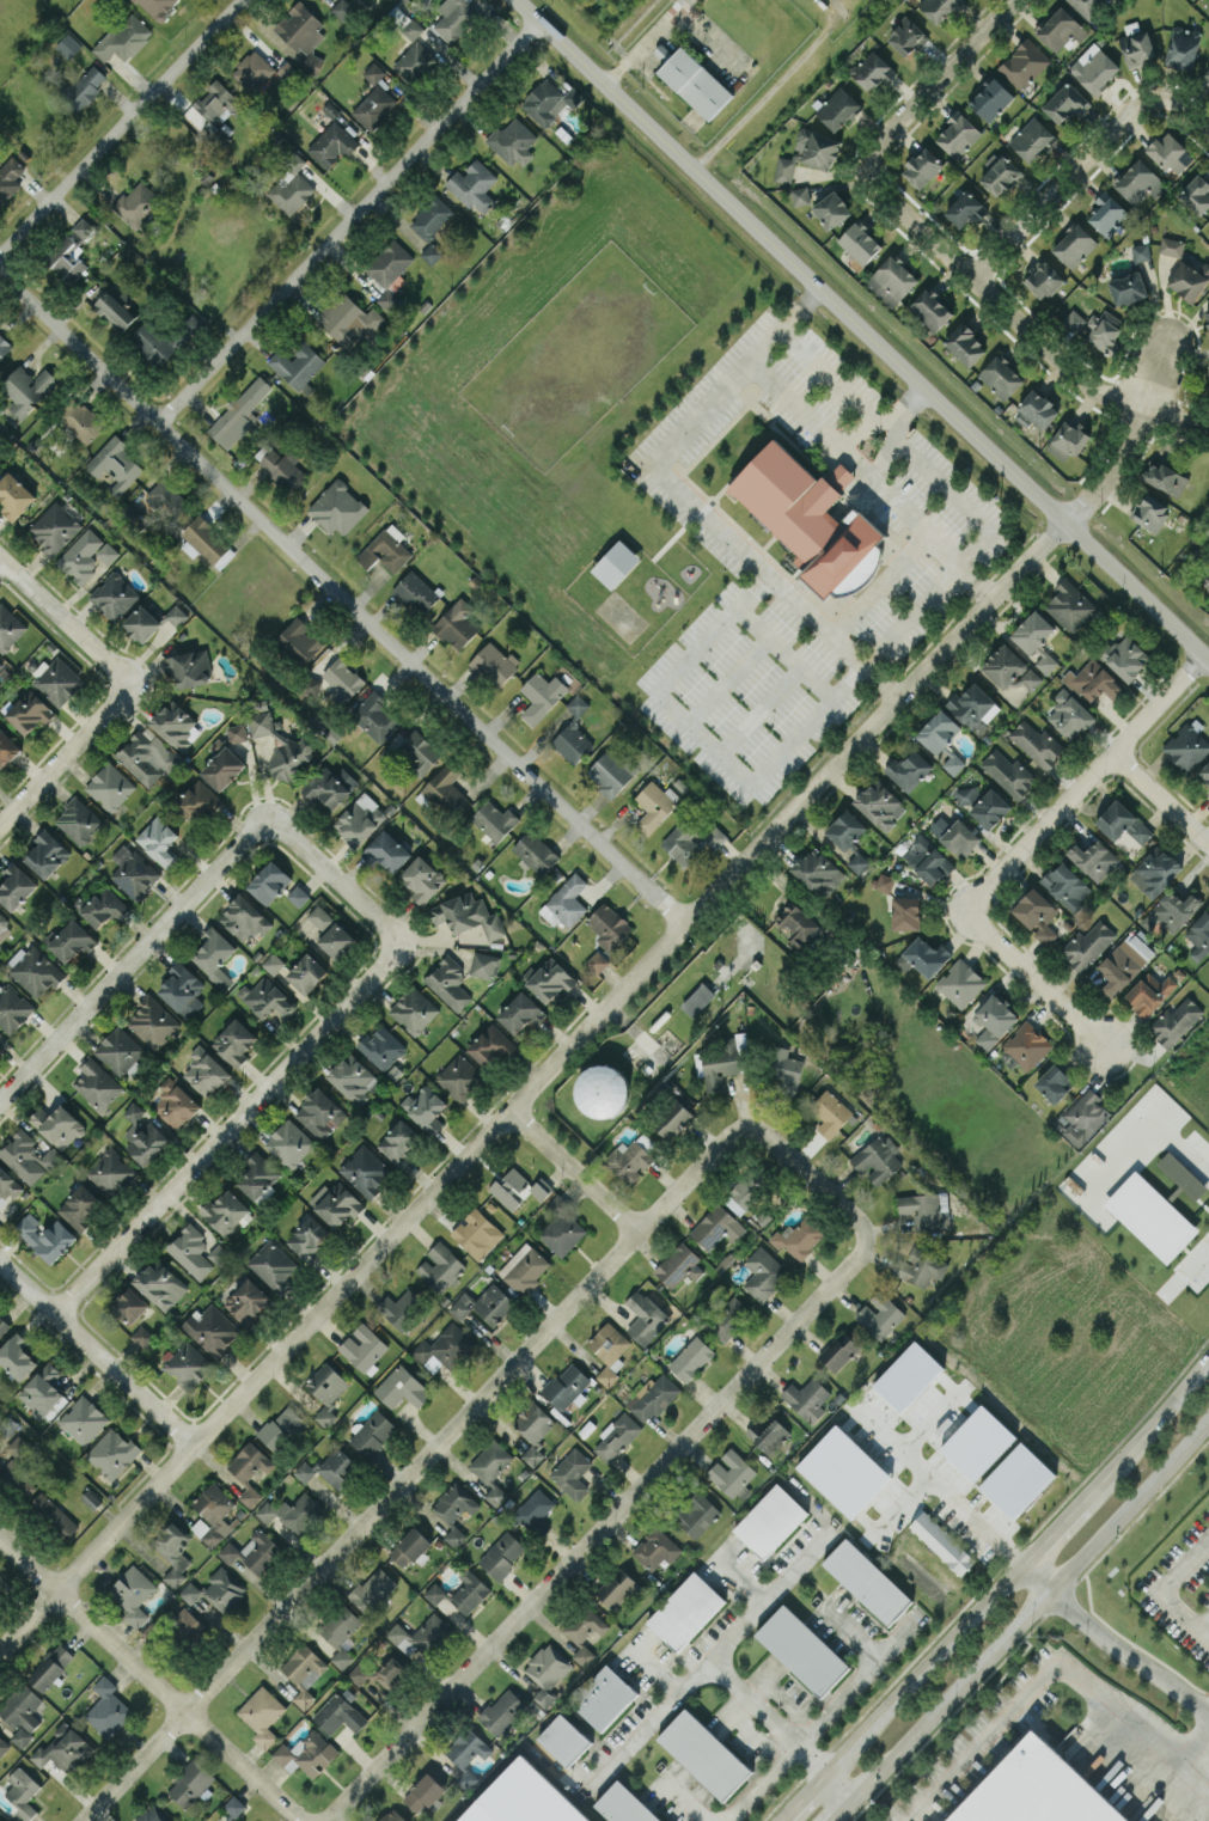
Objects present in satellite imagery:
building: (158, 6)
building: (1087, 6)
building: (938, 7)
building: (342, 8)
building: (456, 18)
building: (413, 29)
building: (1060, 29)
building: (301, 32)
building: (906, 36)
building: (123, 37)
road: (646, 41)
road: (709, 41)
building: (68, 44)
building: (1137, 47)
building: (1183, 48)
building: (414, 61)
building: (1024, 62)
building: (1094, 67)
building: (251, 69)
building: (287, 69)
building: (872, 69)
building: (373, 72)
building: (1205, 75)
road: (934, 79)
building: (695, 83)
building: (84, 86)
building: (990, 98)
building: (218, 100)
building: (549, 100)
building: (1064, 103)
building: (373, 106)
building: (837, 108)
road: (446, 116)
road: (118, 124)
building: (958, 134)
building: (1032, 139)
building: (513, 141)
building: (331, 143)
building: (808, 152)
building: (1170, 152)
road: (1085, 158)
building: (922, 166)
building: (1000, 175)
building: (8, 177)
building: (1138, 181)
building: (472, 184)
building: (291, 185)
building: (1196, 193)
building: (800, 195)
building: (136, 203)
building: (831, 209)
building: (965, 209)
building: (1107, 213)
building: (431, 216)
building: (83, 226)
building: (1074, 244)
building: (859, 245)
building: (1171, 245)
building: (1141, 251)
building: (431, 252)
building: (67, 257)
building: (390, 270)
building: (1043, 279)
building: (1189, 279)
building: (892, 280)
building: (1128, 287)
road: (990, 298)
building: (930, 308)
building: (114, 310)
building: (1207, 314)
building: (346, 318)
road: (257, 319)
road: (860, 326)
building: (1095, 329)
building: (151, 341)
building: (965, 343)
building: (4, 346)
building: (298, 363)
road: (733, 374)
building: (1001, 375)
building: (26, 389)
road: (904, 405)
building: (1036, 409)
building: (238, 413)
road: (1174, 416)
building: (81, 420)
road: (887, 426)
road: (860, 434)
building: (1071, 436)
road: (1124, 440)
road: (880, 454)
building: (115, 463)
building: (282, 468)
building: (1164, 477)
road: (872, 481)
building: (14, 495)
building: (167, 500)
building: (337, 507)
building: (128, 511)
building: (1150, 511)
building: (811, 518)
building: (54, 527)
building: (206, 542)
road: (1045, 545)
building: (385, 549)
building: (86, 555)
road: (0, 558)
building: (615, 563)
building: (1205, 580)
road: (878, 583)
road: (776, 585)
building: (416, 592)
building: (112, 595)
road: (341, 597)
road: (923, 599)
building: (1070, 605)
building: (176, 613)
road: (67, 623)
building: (141, 623)
building: (457, 624)
building: (8, 627)
building: (1036, 638)
building: (299, 640)
building: (1124, 656)
road: (1204, 658)
building: (493, 662)
building: (0, 664)
building: (1003, 665)
building: (187, 668)
building: (342, 677)
building: (1030, 678)
building: (57, 680)
building: (1093, 680)
building: (312, 685)
building: (541, 695)
building: (973, 705)
building: (28, 709)
building: (1069, 714)
building: (374, 716)
building: (175, 723)
building: (938, 731)
building: (237, 732)
building: (573, 733)
road: (702, 739)
building: (279, 743)
building: (1036, 743)
building: (1186, 746)
building: (7, 748)
building: (413, 753)
building: (146, 756)
road: (67, 759)
building: (953, 763)
building: (224, 768)
building: (908, 769)
building: (611, 771)
building: (1008, 772)
building: (1204, 774)
road: (1085, 783)
building: (328, 784)
building: (109, 786)
building: (444, 788)
building: (1208, 793)
building: (966, 794)
building: (197, 800)
road: (1160, 800)
building: (879, 803)
building: (654, 805)
building: (990, 808)
building: (360, 819)
building: (494, 819)
building: (78, 820)
building: (1123, 821)
building: (845, 829)
building: (955, 835)
building: (159, 841)
building: (690, 843)
building: (386, 850)
building: (536, 851)
building: (47, 853)
building: (927, 858)
building: (1093, 858)
building: (857, 861)
building: (133, 870)
building: (818, 870)
building: (1155, 870)
building: (422, 879)
building: (269, 881)
building: (884, 881)
building: (14, 885)
building: (1065, 885)
building: (298, 894)
building: (564, 902)
building: (104, 906)
building: (1171, 910)
building: (906, 912)
building: (1036, 913)
building: (466, 915)
building: (320, 917)
building: (243, 918)
building: (795, 922)
building: (609, 925)
building: (4, 927)
road: (164, 929)
building: (1199, 935)
building: (71, 940)
building: (336, 940)
building: (1087, 943)
building: (214, 955)
building: (923, 957)
building: (597, 961)
building: (1124, 961)
building: (273, 963)
building: (483, 964)
building: (33, 970)
building: (306, 972)
road: (1033, 977)
building: (548, 979)
building: (448, 982)
building: (959, 982)
building: (182, 989)
building: (1149, 992)
building: (267, 997)
building: (697, 998)
building: (13, 1008)
building: (414, 1009)
building: (520, 1012)
building: (152, 1020)
building: (993, 1020)
building: (1174, 1021)
building: (234, 1041)
building: (490, 1044)
building: (1026, 1045)
building: (381, 1046)
building: (120, 1051)
building: (719, 1061)
building: (786, 1068)
building: (206, 1070)
building: (458, 1076)
building: (353, 1078)
building: (96, 1082)
building: (1054, 1082)
building: (603, 1089)
road: (273, 1095)
building: (175, 1102)
building: (425, 1107)
road: (514, 1110)
building: (319, 1112)
building: (830, 1112)
building: (1085, 1117)
building: (671, 1118)
building: (57, 1124)
road: (1153, 1124)
building: (145, 1135)
building: (288, 1142)
building: (398, 1142)
building: (29, 1156)
building: (631, 1156)
building: (875, 1159)
building: (365, 1169)
road: (575, 1171)
building: (111, 1172)
building: (257, 1174)
building: (1181, 1174)
road: (811, 1179)
building: (8, 1185)
building: (518, 1187)
building: (747, 1187)
building: (335, 1203)
building: (79, 1206)
building: (225, 1211)
building: (1150, 1216)
building: (716, 1226)
building: (561, 1227)
building: (476, 1233)
building: (47, 1236)
building: (307, 1236)
building: (799, 1236)
building: (190, 1251)
building: (218, 1253)
road: (1192, 1261)
building: (273, 1265)
building: (678, 1265)
building: (440, 1266)
building: (921, 1266)
building: (524, 1267)
building: (763, 1272)
building: (160, 1283)
building: (246, 1300)
building: (483, 1303)
building: (129, 1304)
building: (401, 1308)
building: (880, 1314)
building: (645, 1316)
building: (728, 1316)
building: (2, 1325)
building: (212, 1330)
building: (141, 1334)
building: (362, 1346)
building: (444, 1348)
building: (609, 1350)
building: (838, 1350)
road: (96, 1352)
building: (691, 1357)
building: (188, 1365)
building: (567, 1385)
building: (401, 1387)
building: (41, 1389)
building: (325, 1389)
building: (651, 1398)
building: (806, 1398)
building: (83, 1419)
building: (8, 1424)
road: (1150, 1425)
building: (281, 1428)
building: (372, 1432)
building: (768, 1434)
building: (616, 1435)
building: (111, 1452)
building: (18, 1463)
building: (330, 1467)
building: (491, 1468)
building: (249, 1469)
road: (411, 1471)
building: (572, 1472)
building: (733, 1473)
road: (939, 1483)
building: (90, 1498)
building: (533, 1508)
building: (454, 1509)
building: (292, 1511)
building: (53, 1514)
building: (214, 1514)
building: (697, 1514)
building: (770, 1520)
road: (1052, 1528)
road: (598, 1532)
building: (942, 1541)
building: (410, 1546)
building: (657, 1548)
building: (252, 1551)
building: (172, 1552)
building: (502, 1554)
road: (740, 1575)
road: (1034, 1578)
building: (867, 1581)
building: (618, 1587)
building: (224, 1588)
road: (1170, 1588)
building: (373, 1590)
building: (190, 1591)
building: (462, 1591)
building: (130, 1593)
road: (770, 1593)
building: (685, 1609)
road: (1033, 1611)
road: (1204, 1621)
building: (585, 1624)
building: (189, 1625)
road: (853, 1631)
building: (340, 1632)
building: (420, 1634)
building: (802, 1649)
building: (582, 1654)
road: (1129, 1655)
road: (709, 1662)
building: (50, 1666)
road: (654, 1668)
road: (1046, 1670)
building: (304, 1672)
building: (547, 1672)
building: (380, 1673)
road: (912, 1678)
road: (148, 1681)
road: (854, 1682)
building: (604, 1697)
building: (106, 1707)
building: (502, 1710)
building: (22, 1712)
building: (262, 1713)
building: (338, 1713)
building: (563, 1738)
building: (2, 1744)
building: (468, 1747)
road: (1193, 1747)
building: (63, 1748)
building: (306, 1753)
building: (704, 1753)
road: (759, 1782)
building: (190, 1783)
road: (838, 1788)
building: (1036, 1790)
building: (22, 1791)
building: (423, 1792)
building: (523, 1798)
road: (686, 1801)
building: (624, 1804)
building: (233, 1805)
road: (793, 1807)
road: (841, 1810)
building: (151, 1815)
building: (392, 1815)
building: (228, 1819)
building: (0, 1820)

